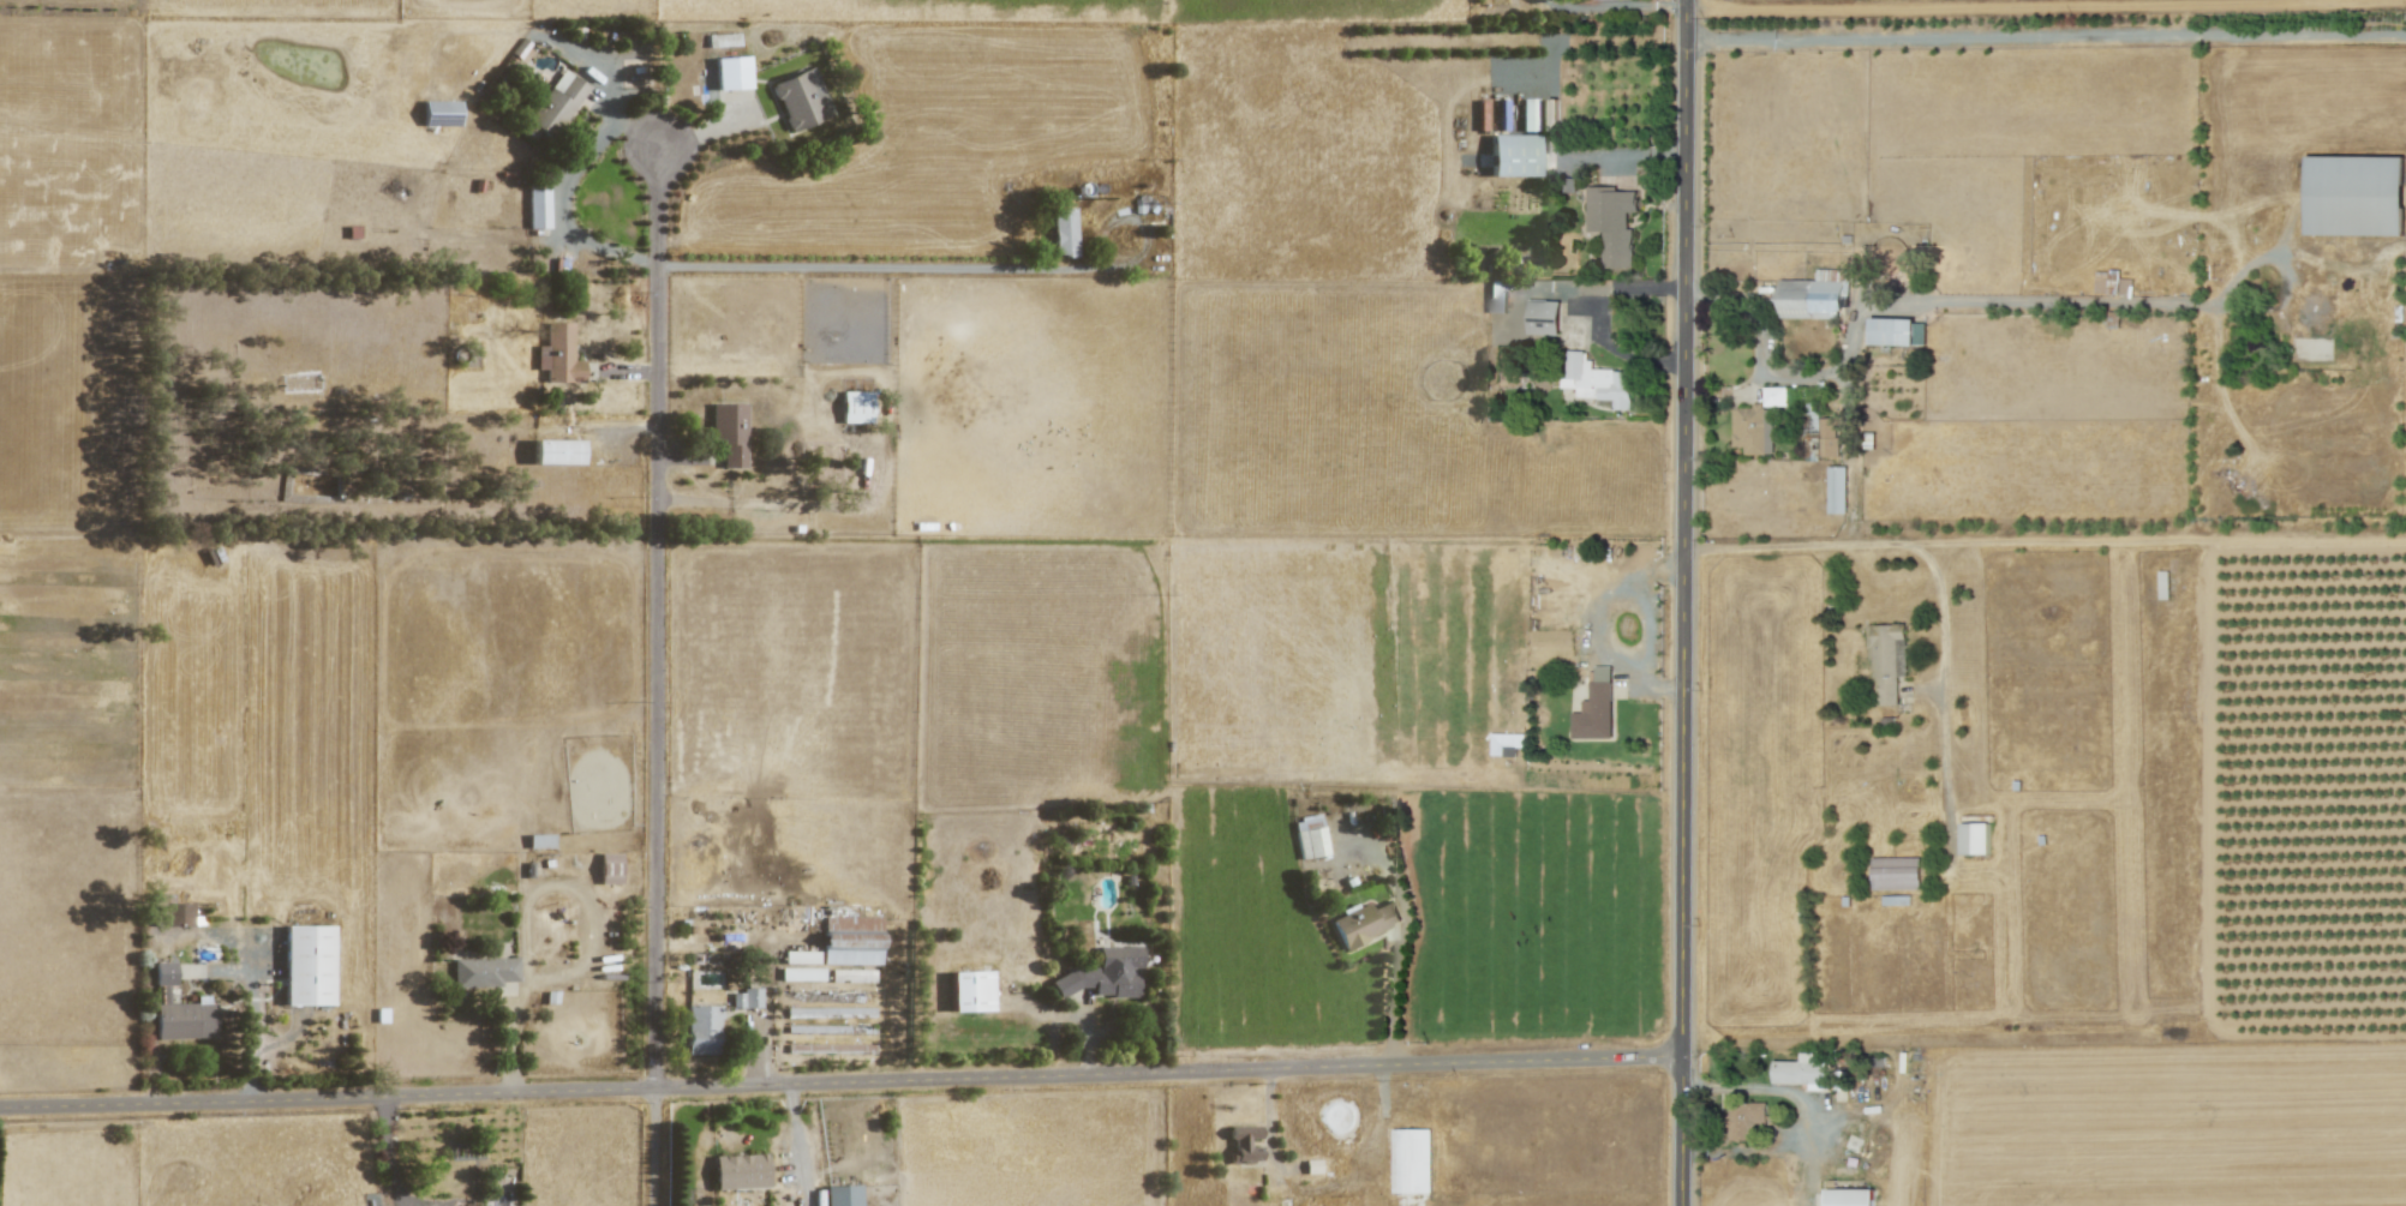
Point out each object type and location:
road: (1617, 6)
road: (2013, 6)
road: (2047, 35)
building: (731, 72)
building: (801, 98)
building: (553, 106)
building: (439, 113)
building: (1539, 114)
road: (708, 128)
road: (640, 132)
building: (1513, 155)
road: (1629, 157)
road: (581, 162)
building: (2354, 196)
building: (537, 208)
road: (1136, 222)
building: (1611, 223)
building: (1063, 232)
road: (1112, 266)
road: (884, 268)
building: (2111, 283)
building: (1497, 296)
building: (1813, 296)
road: (2107, 304)
building: (1543, 317)
road: (1596, 324)
building: (1892, 330)
building: (558, 354)
road: (626, 371)
road: (1805, 377)
building: (1596, 379)
building: (855, 406)
building: (1758, 422)
building: (729, 433)
building: (1823, 437)
building: (556, 451)
road: (678, 457)
building: (1837, 490)
road: (1854, 527)
road: (2166, 539)
road: (1941, 586)
road: (1687, 602)
road: (1594, 625)
road: (1653, 625)
building: (1887, 661)
road: (658, 677)
building: (1594, 713)
building: (1503, 744)
building: (1309, 836)
building: (1975, 838)
building: (539, 840)
building: (609, 868)
building: (1895, 872)
building: (174, 913)
building: (1364, 923)
road: (1406, 928)
road: (221, 935)
road: (529, 935)
building: (851, 940)
building: (801, 956)
building: (307, 965)
building: (483, 971)
building: (801, 973)
building: (1103, 973)
building: (851, 974)
road: (573, 978)
building: (969, 990)
building: (746, 998)
building: (185, 1019)
building: (701, 1028)
road: (288, 1037)
road: (1088, 1042)
road: (761, 1055)
building: (1802, 1072)
road: (843, 1081)
road: (1778, 1088)
building: (1744, 1118)
road: (1270, 1127)
building: (1243, 1144)
road: (798, 1145)
road: (391, 1151)
building: (1411, 1160)
building: (1311, 1166)
building: (740, 1171)
building: (840, 1195)
building: (1849, 1196)

